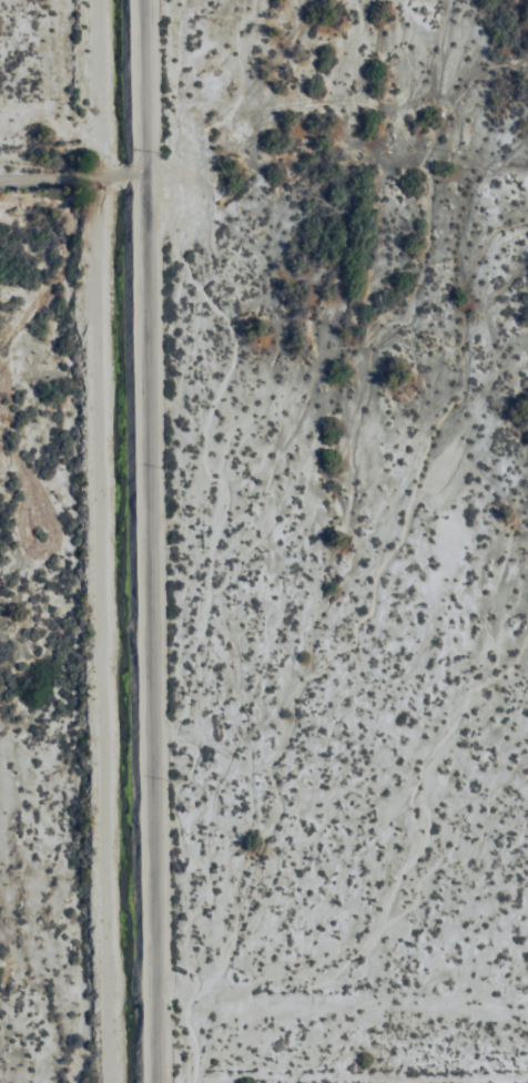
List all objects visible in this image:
road: (92, 178)
road: (191, 541)

